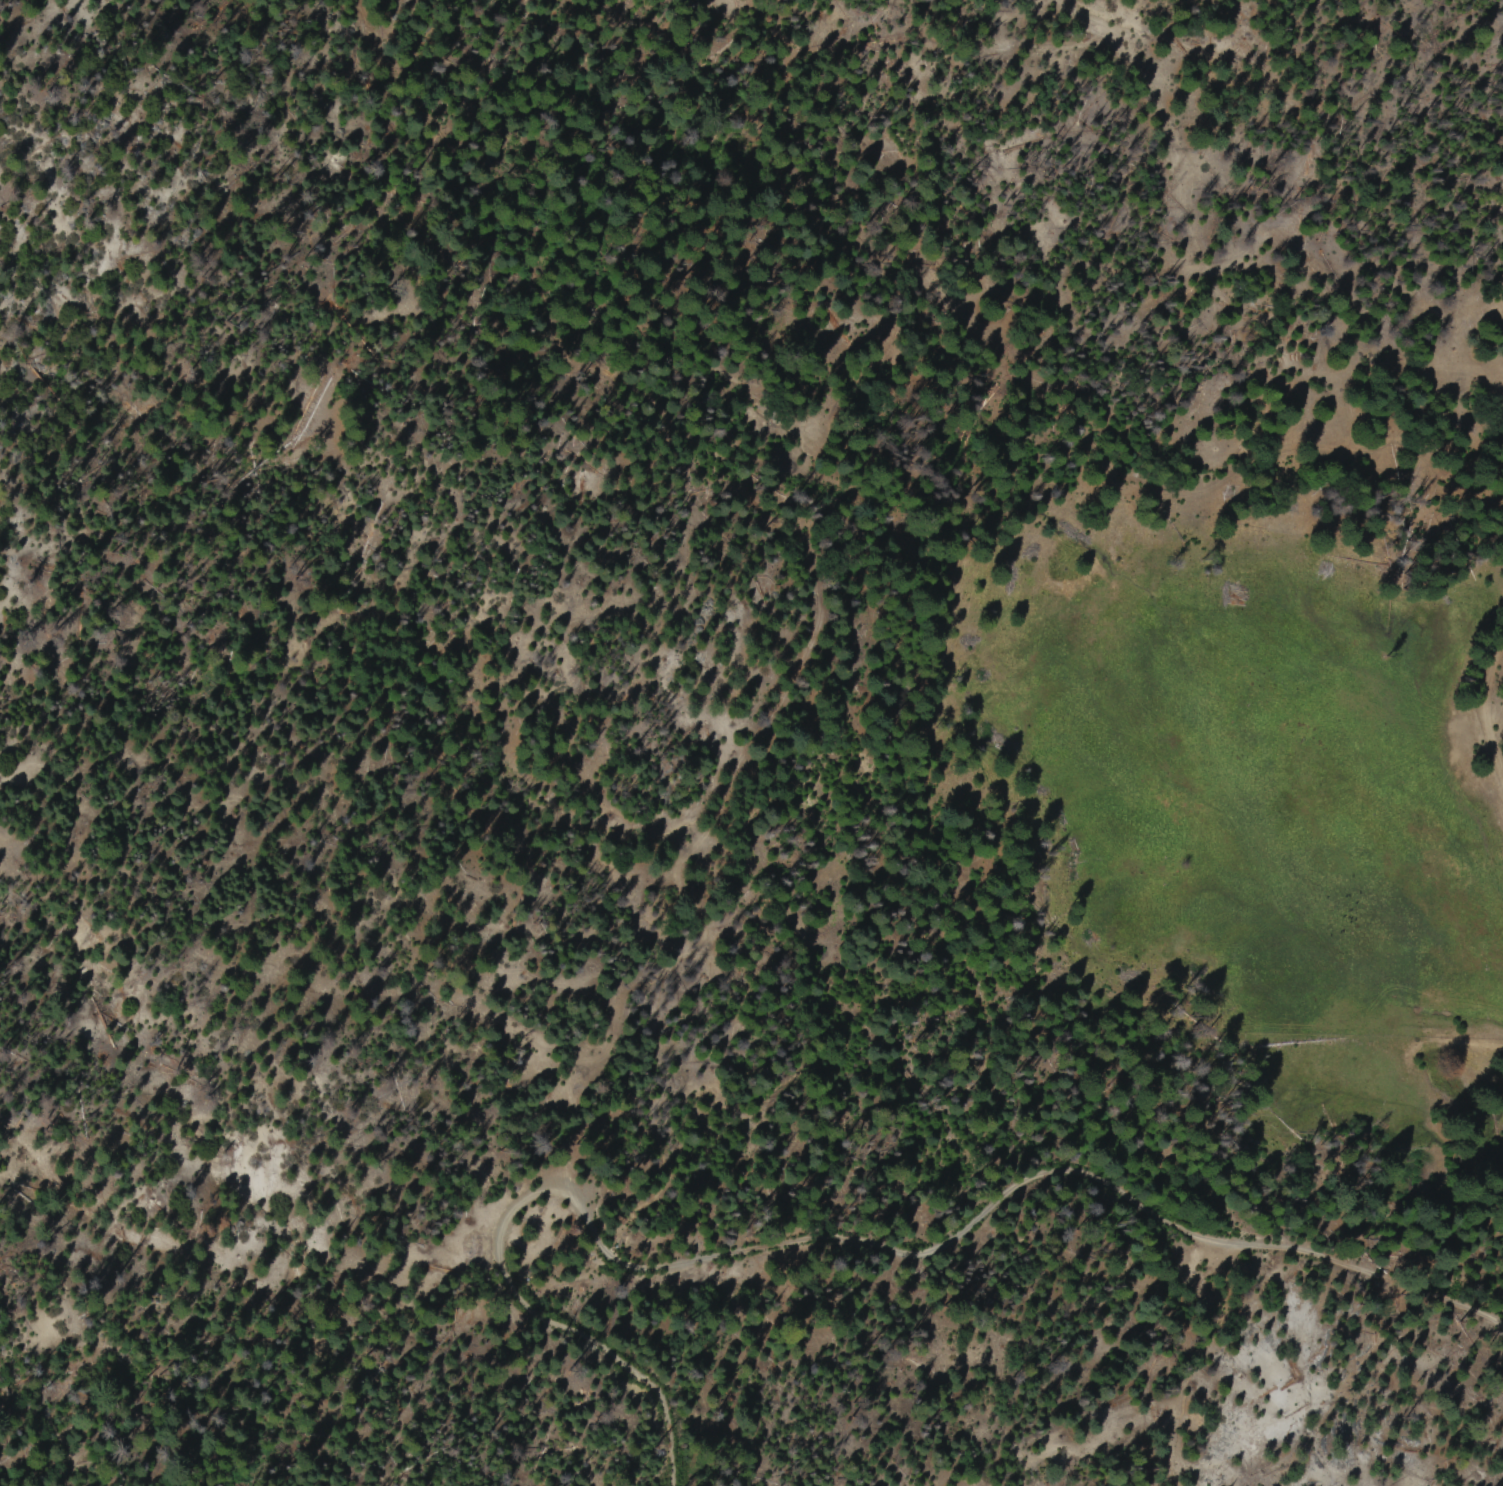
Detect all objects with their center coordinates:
road: (734, 567)
road: (1486, 721)
road: (1030, 1186)
road: (557, 1326)

